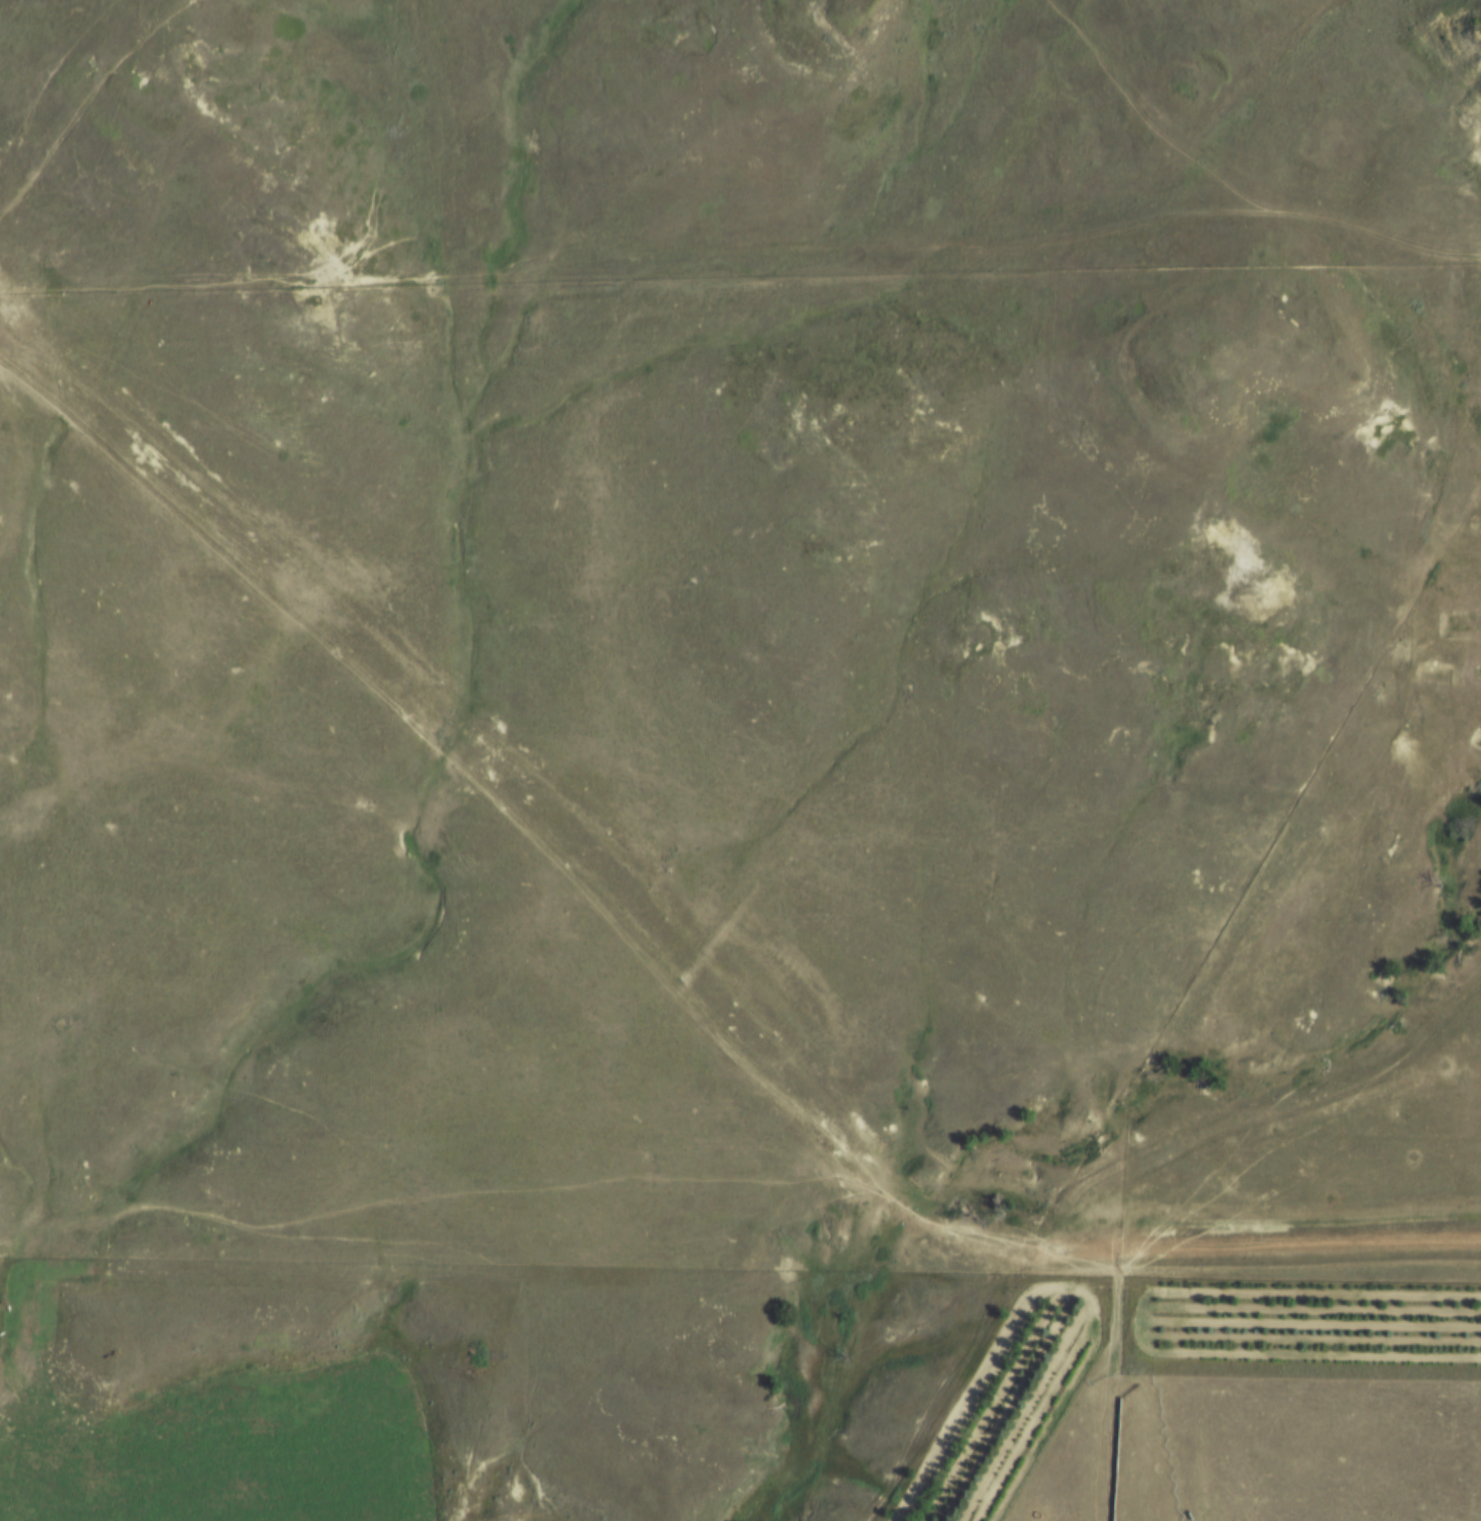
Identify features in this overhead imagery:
road: (672, 978)

